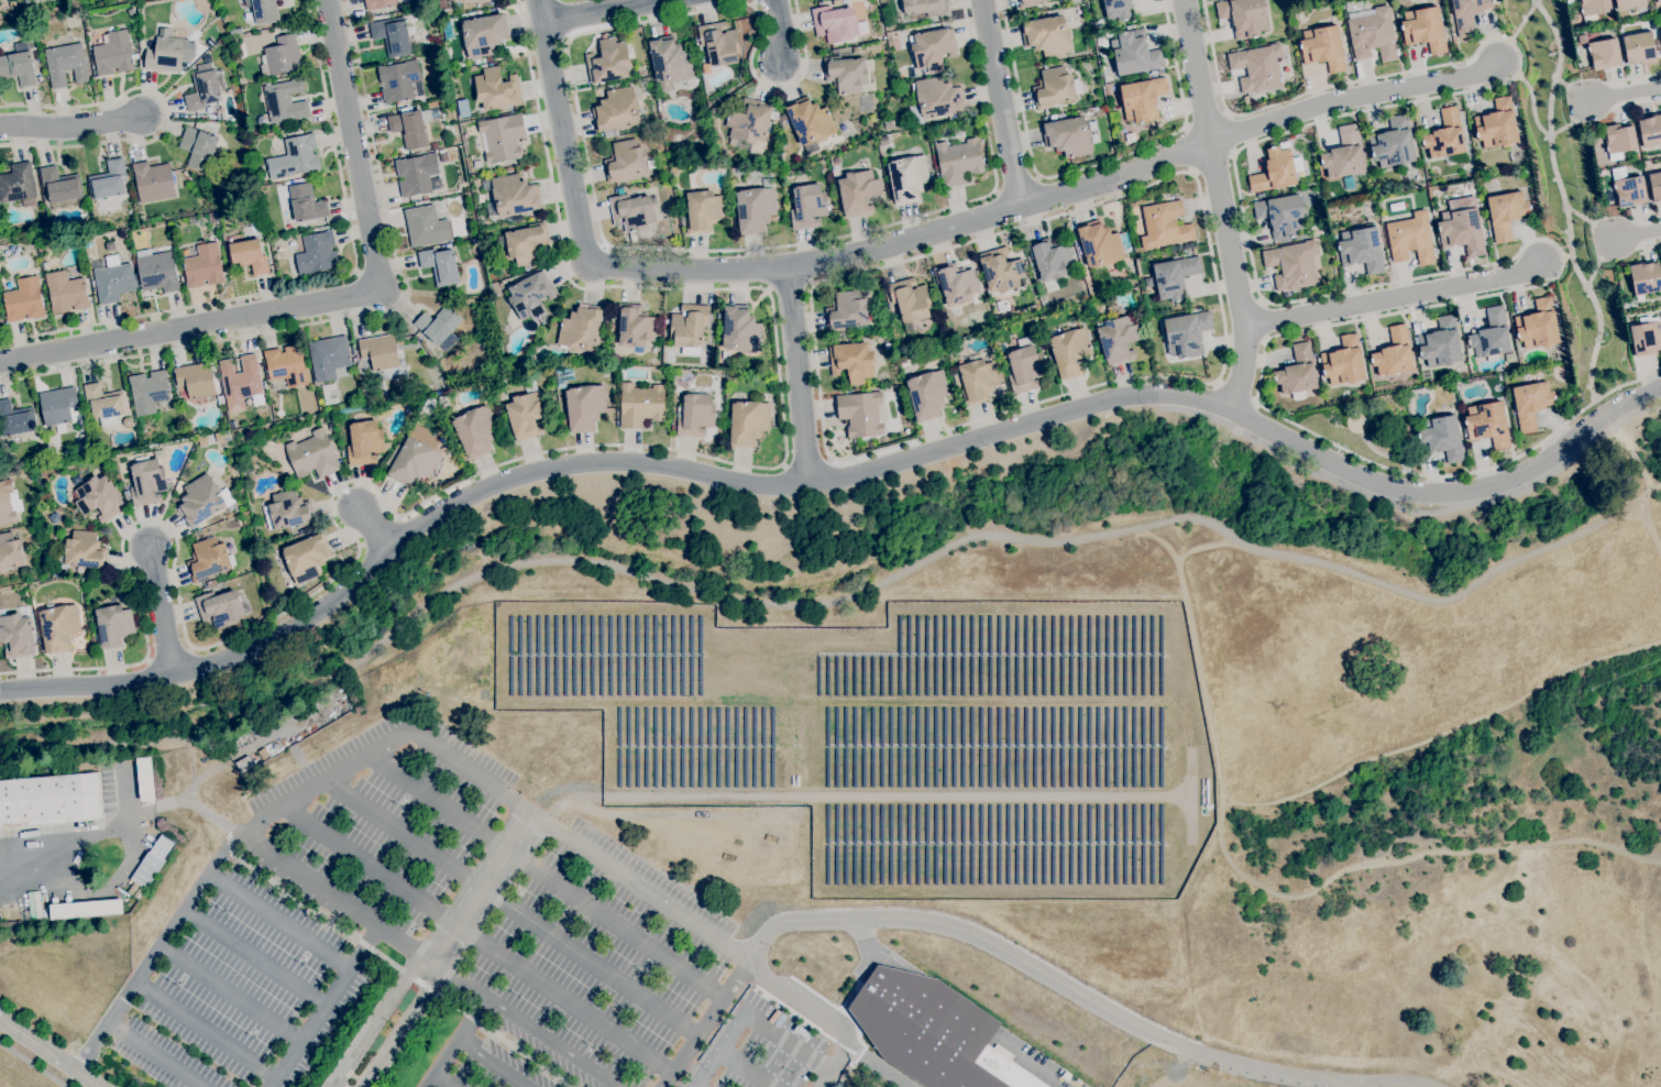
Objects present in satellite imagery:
building: (402, 0)
building: (459, 0)
building: (482, 0)
building: (1657, 0)
building: (26, 1)
building: (1569, 1)
building: (1659, 1)
building: (1075, 2)
building: (377, 3)
building: (1026, 3)
building: (1631, 4)
building: (11, 6)
building: (924, 7)
building: (1118, 9)
building: (1593, 9)
building: (263, 10)
building: (1033, 10)
building: (130, 11)
road: (610, 11)
building: (1467, 14)
building: (1243, 17)
building: (1299, 17)
road: (1524, 21)
building: (834, 23)
building: (1423, 29)
building: (447, 30)
building: (234, 31)
road: (771, 31)
building: (1372, 33)
building: (392, 35)
building: (484, 35)
building: (1046, 35)
building: (719, 43)
building: (141, 45)
building: (1322, 47)
building: (1639, 48)
building: (856, 50)
building: (933, 50)
building: (199, 51)
building: (113, 53)
building: (1134, 53)
building: (1604, 53)
building: (166, 55)
building: (280, 56)
building: (194, 57)
building: (608, 62)
building: (669, 62)
building: (66, 64)
building: (18, 65)
building: (486, 65)
building: (1257, 67)
building: (641, 68)
building: (1153, 73)
building: (848, 75)
building: (40, 77)
road: (1621, 80)
building: (400, 81)
building: (1054, 87)
building: (205, 88)
building: (496, 89)
road: (1572, 89)
road: (1625, 92)
road: (1353, 94)
building: (935, 99)
building: (1142, 99)
building: (285, 101)
road: (1001, 102)
building: (463, 108)
building: (405, 109)
road: (1624, 109)
building: (616, 111)
building: (714, 111)
road: (167, 113)
building: (201, 116)
building: (1053, 117)
building: (261, 119)
building: (781, 119)
building: (750, 121)
building: (810, 123)
building: (889, 124)
building: (1497, 124)
building: (413, 127)
road: (1540, 129)
road: (69, 130)
building: (1153, 131)
building: (1650, 131)
building: (958, 132)
building: (1445, 135)
building: (1067, 136)
building: (501, 138)
building: (1129, 138)
building: (1618, 140)
building: (883, 141)
building: (1393, 143)
building: (1285, 144)
building: (435, 145)
building: (198, 147)
building: (1344, 154)
building: (298, 156)
building: (443, 156)
building: (625, 161)
building: (957, 162)
road: (1088, 166)
building: (800, 171)
building: (1274, 171)
building: (417, 175)
building: (908, 178)
building: (108, 180)
building: (153, 182)
building: (16, 183)
road: (1016, 184)
building: (61, 185)
building: (1654, 186)
building: (858, 191)
building: (1629, 191)
building: (514, 195)
building: (1259, 196)
building: (481, 198)
road: (1563, 200)
building: (306, 204)
road: (1224, 205)
building: (807, 206)
building: (755, 208)
building: (703, 211)
building: (631, 212)
building: (1506, 213)
building: (1281, 215)
building: (212, 218)
road: (1634, 219)
building: (681, 221)
road: (1592, 222)
building: (1164, 224)
building: (426, 226)
building: (1461, 231)
road: (1638, 234)
road: (602, 238)
building: (632, 238)
building: (1333, 238)
building: (1410, 238)
building: (86, 239)
building: (475, 243)
building: (527, 243)
building: (1101, 244)
building: (110, 246)
road: (1637, 248)
building: (89, 250)
building: (1361, 250)
building: (317, 253)
building: (248, 255)
road: (1566, 256)
building: (1049, 261)
road: (1598, 262)
building: (440, 264)
building: (1291, 264)
building: (204, 266)
road: (772, 270)
building: (1001, 270)
building: (157, 272)
building: (1175, 276)
building: (1645, 278)
building: (113, 279)
building: (1149, 281)
road: (313, 283)
building: (955, 283)
road: (1389, 283)
road: (789, 287)
building: (65, 293)
building: (530, 295)
road: (1396, 295)
building: (23, 299)
road: (341, 299)
building: (458, 299)
building: (910, 299)
building: (1044, 300)
building: (468, 303)
building: (1001, 307)
building: (846, 311)
road: (355, 316)
building: (718, 316)
building: (665, 321)
building: (1538, 325)
building: (635, 326)
building: (439, 327)
building: (580, 328)
building: (689, 328)
building: (740, 329)
building: (1186, 333)
building: (1491, 336)
building: (1646, 338)
building: (1118, 339)
building: (1440, 343)
building: (381, 351)
building: (1070, 352)
building: (1394, 353)
building: (328, 356)
building: (851, 361)
building: (1343, 362)
building: (934, 365)
building: (285, 366)
building: (1024, 366)
building: (509, 372)
building: (1297, 373)
building: (563, 376)
building: (196, 380)
building: (242, 380)
road: (796, 380)
building: (956, 380)
building: (680, 381)
building: (978, 381)
building: (1495, 386)
road: (1234, 391)
building: (147, 392)
building: (324, 394)
building: (927, 394)
building: (220, 399)
building: (442, 400)
building: (1443, 400)
building: (103, 403)
building: (1530, 404)
building: (237, 405)
building: (640, 405)
building: (428, 406)
building: (57, 407)
building: (584, 407)
building: (527, 413)
building: (695, 413)
building: (859, 414)
road: (1638, 415)
road: (1605, 416)
building: (15, 419)
building: (128, 421)
building: (748, 422)
building: (673, 424)
building: (1487, 424)
building: (475, 431)
building: (1441, 437)
building: (364, 442)
building: (312, 454)
road: (851, 457)
road: (513, 460)
road: (1635, 460)
building: (413, 462)
road: (806, 462)
building: (249, 469)
building: (226, 477)
building: (147, 482)
road: (828, 482)
road: (1657, 487)
building: (125, 494)
road: (1646, 495)
building: (98, 498)
building: (200, 499)
building: (5, 504)
building: (288, 510)
road: (1649, 525)
road: (376, 527)
road: (1163, 543)
building: (10, 552)
building: (80, 555)
building: (306, 557)
building: (207, 559)
road: (605, 568)
building: (210, 583)
road: (1442, 600)
building: (219, 608)
road: (158, 613)
building: (58, 623)
building: (113, 626)
building: (16, 634)
park: (1289, 706)
building: (263, 754)
building: (243, 765)
road: (475, 778)
building: (144, 779)
road: (1306, 791)
building: (50, 800)
road: (114, 824)
road: (1402, 861)
building: (150, 866)
road: (544, 877)
road: (479, 888)
road: (331, 898)
building: (85, 909)
road: (510, 910)
road: (277, 921)
road: (972, 934)
parking lot: (450, 937)
road: (476, 940)
road: (866, 945)
road: (252, 958)
road: (744, 991)
road: (228, 993)
road: (834, 1006)
road: (374, 1020)
road: (751, 1021)
road: (524, 1022)
road: (706, 1024)
road: (105, 1026)
road: (400, 1026)
building: (933, 1031)
road: (455, 1042)
road: (846, 1050)
road: (48, 1053)
road: (857, 1055)
road: (153, 1056)
road: (494, 1063)
road: (1152, 1063)
road: (32, 1064)
road: (835, 1066)
road: (877, 1066)
road: (744, 1069)
road: (277, 1072)
road: (843, 1077)
road: (1310, 1077)
road: (271, 1081)
road: (440, 1081)

